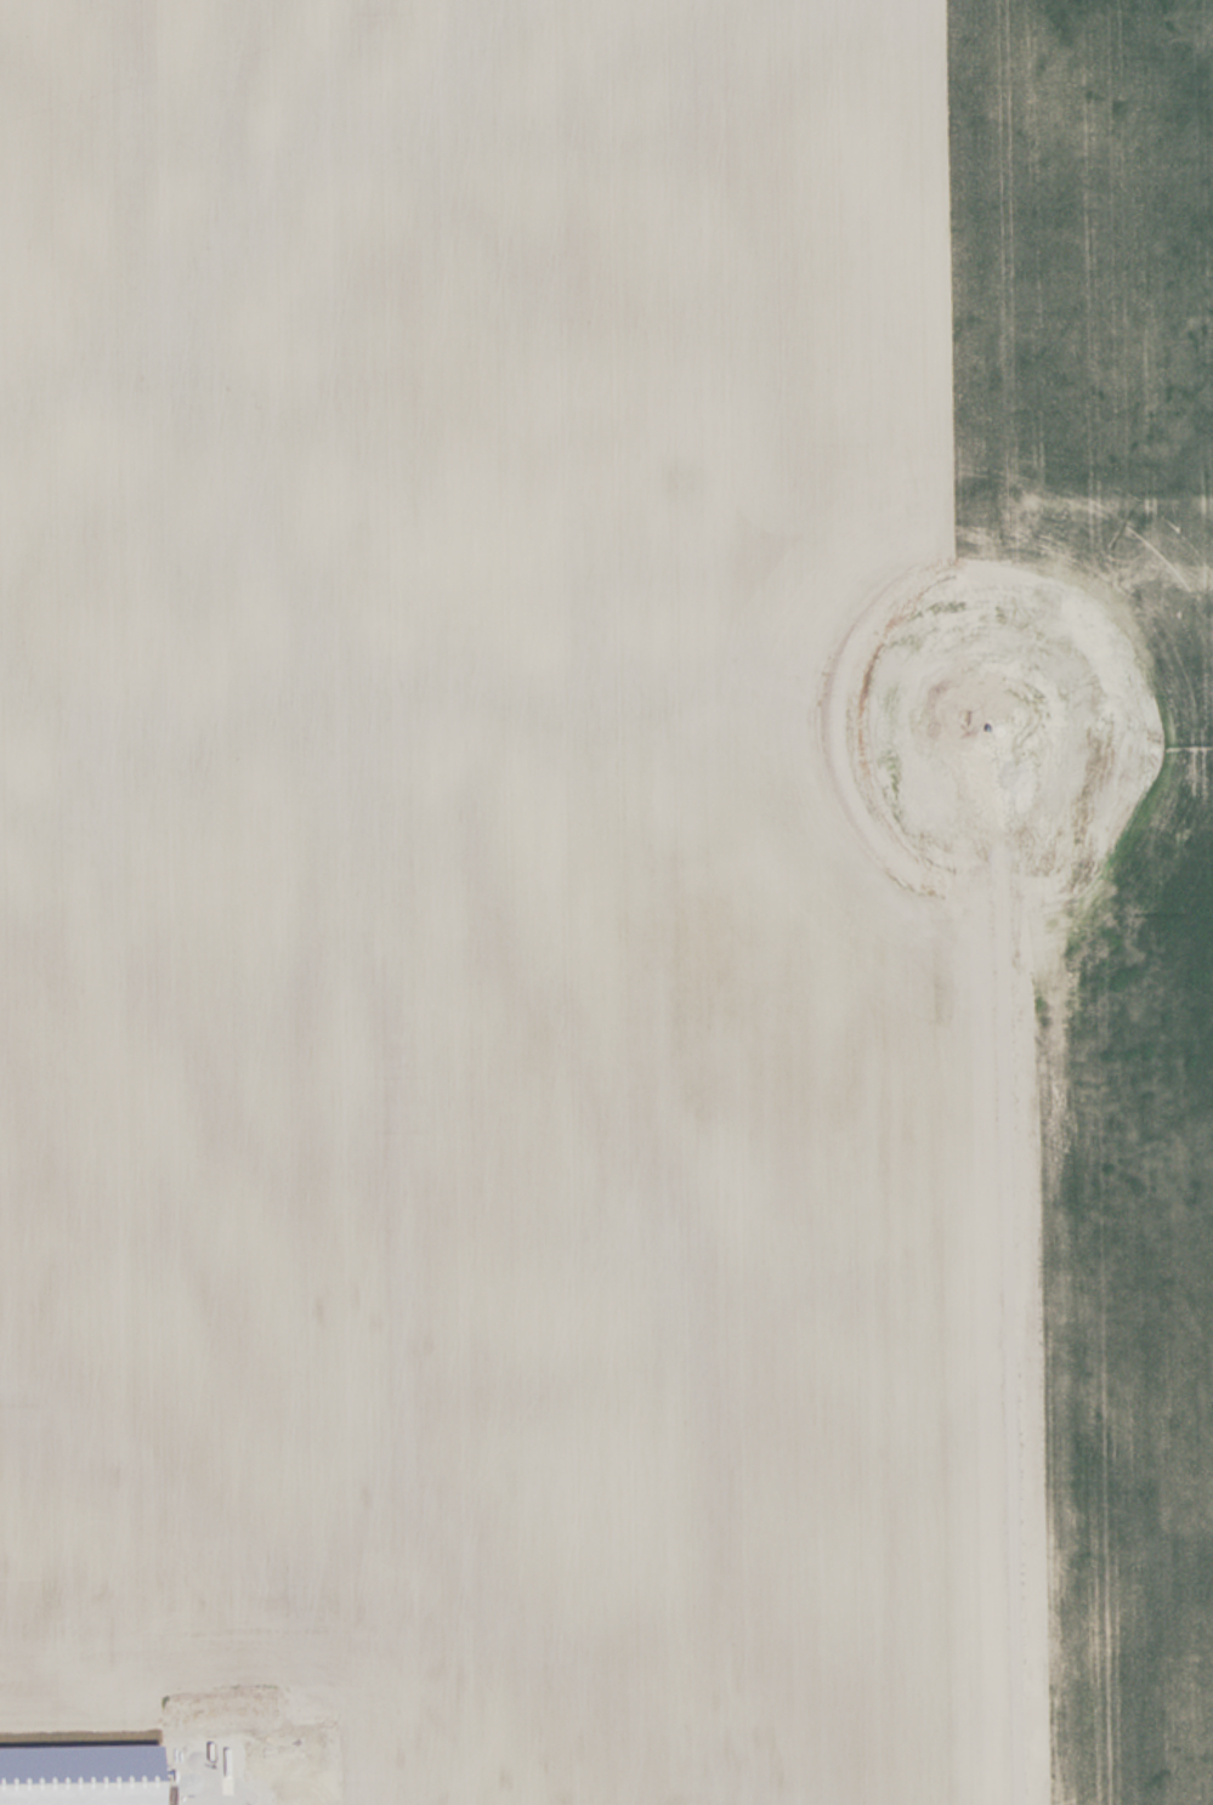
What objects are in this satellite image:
wind turbine: (958, 728)

